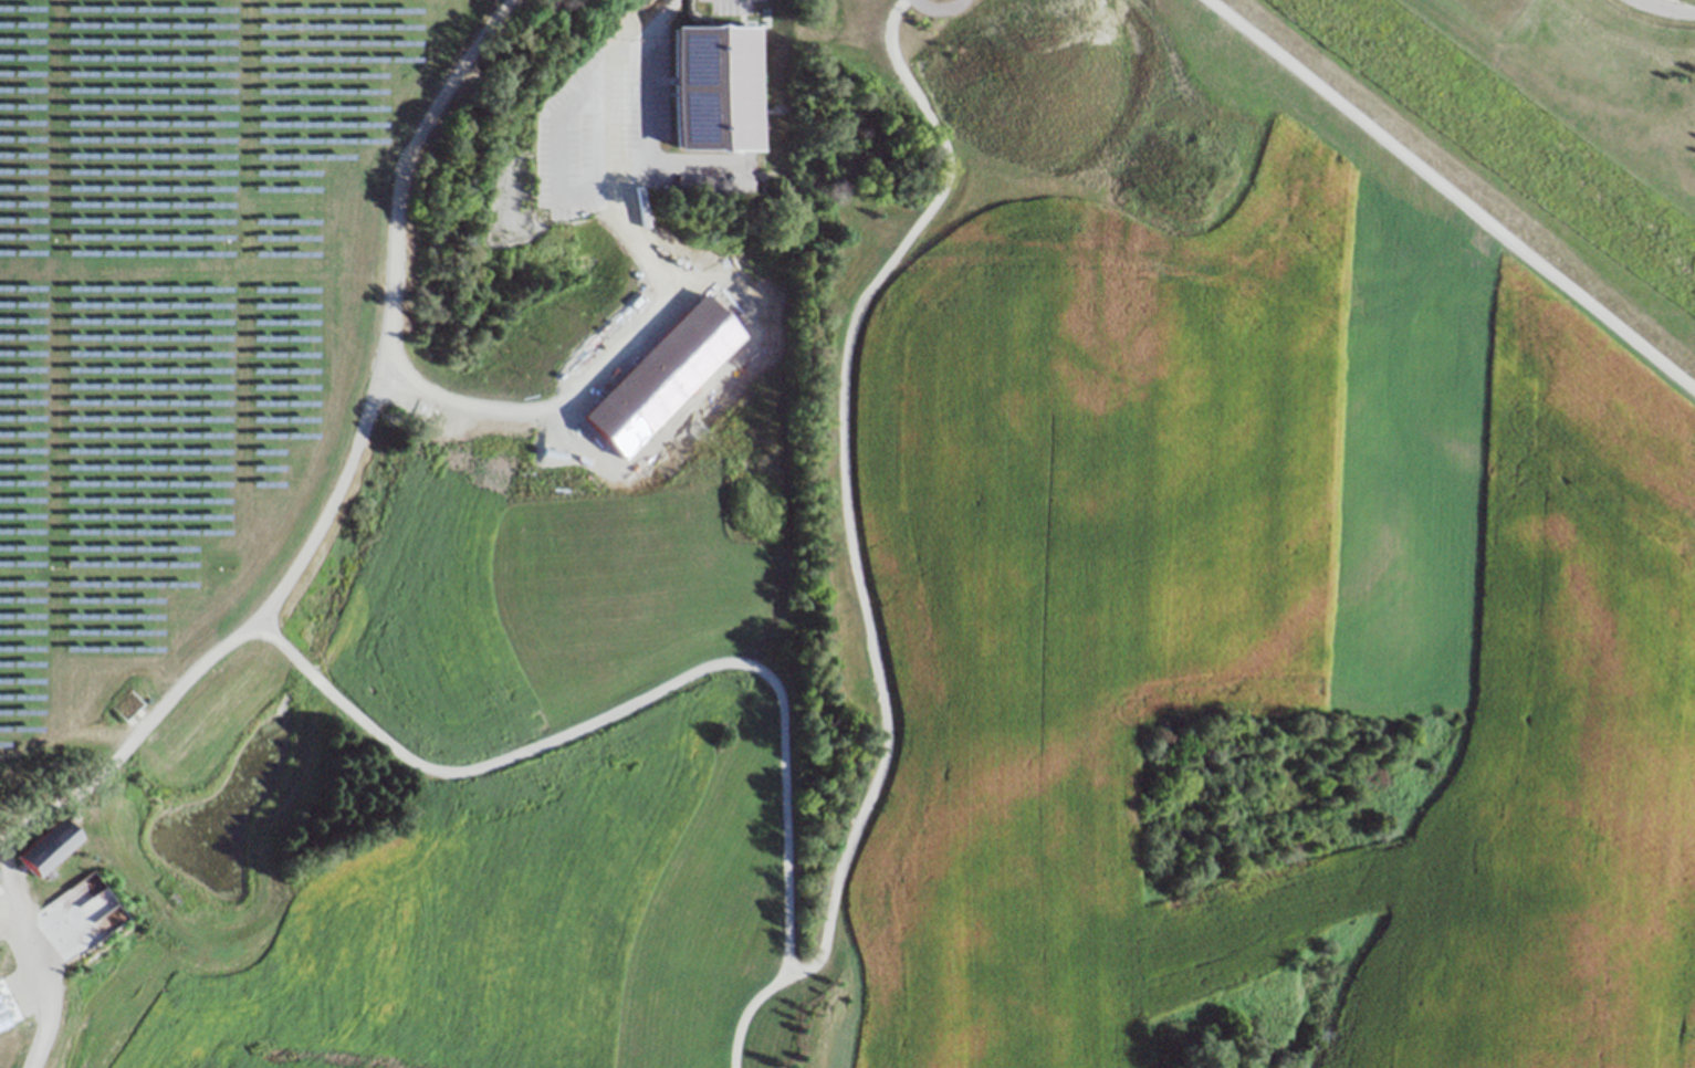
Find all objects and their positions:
road: (1675, 4)
road: (940, 9)
road: (659, 10)
building: (719, 87)
road: (1352, 109)
road: (601, 126)
road: (657, 164)
road: (713, 165)
road: (701, 189)
road: (567, 192)
road: (904, 259)
solar farm: (163, 301)
building: (1239, 374)
building: (1154, 406)
road: (334, 704)
building: (45, 851)
building: (1, 879)
road: (12, 910)

